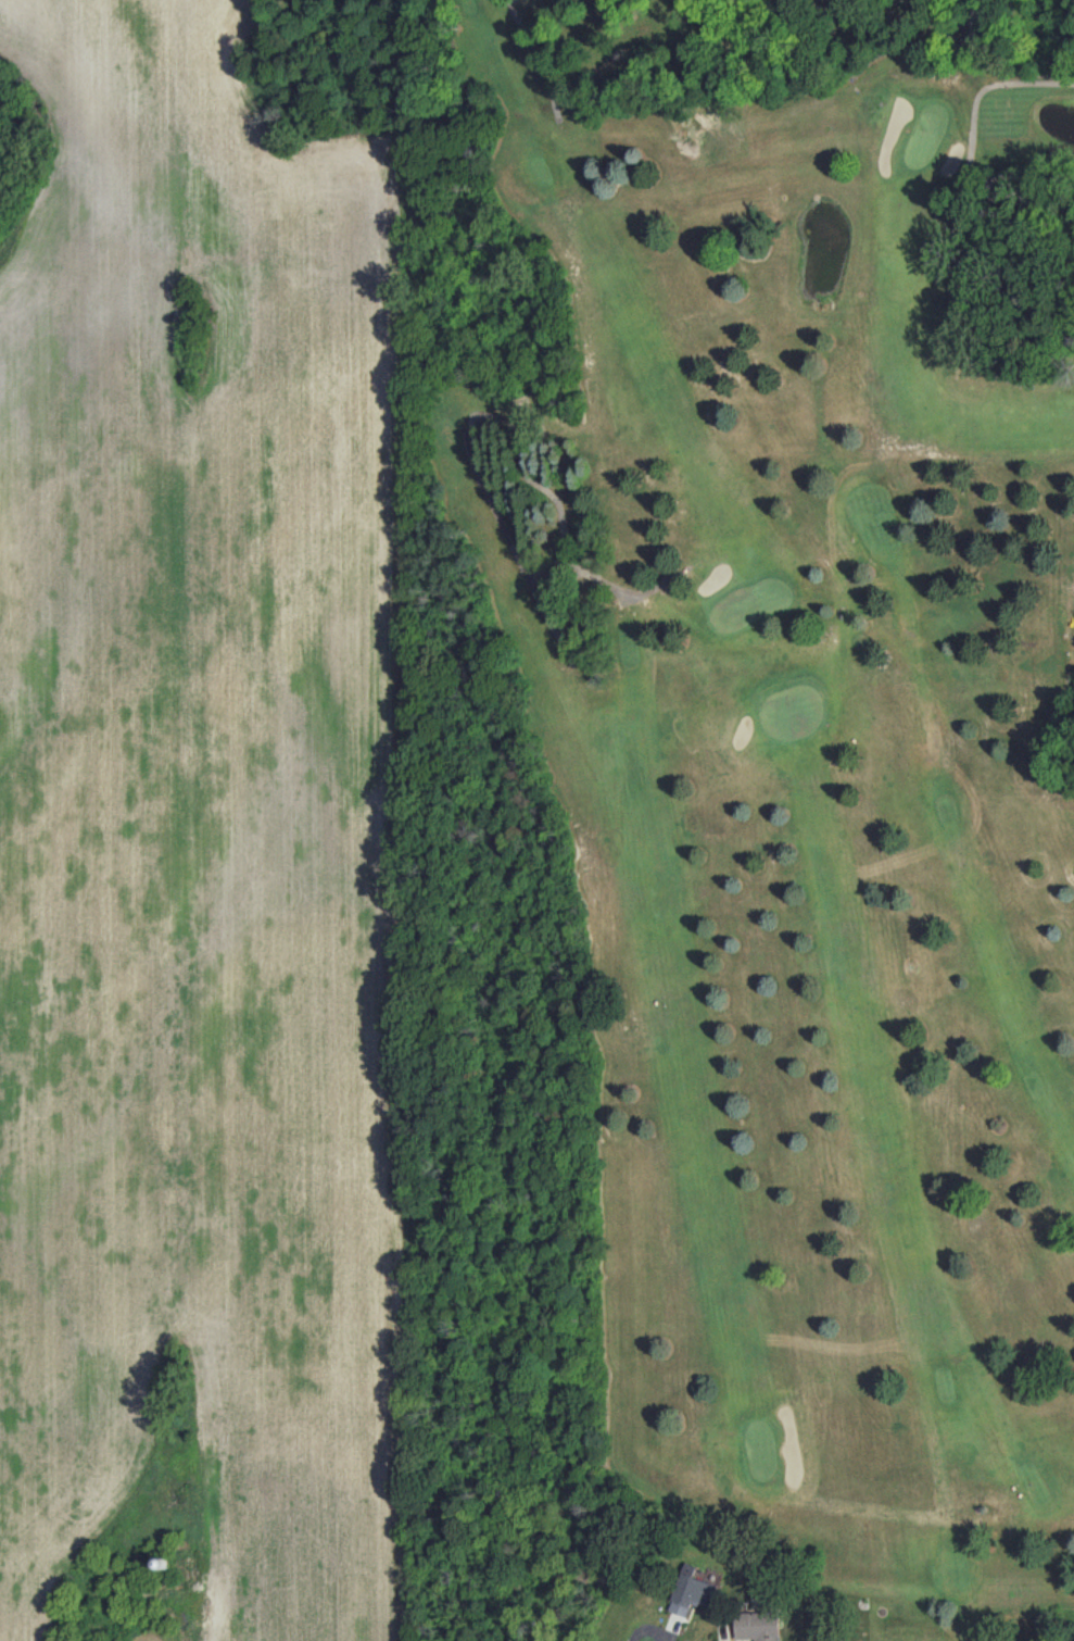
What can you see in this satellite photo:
park: (810, 741)
crop: (190, 762)
building: (692, 1591)
building: (759, 1626)

